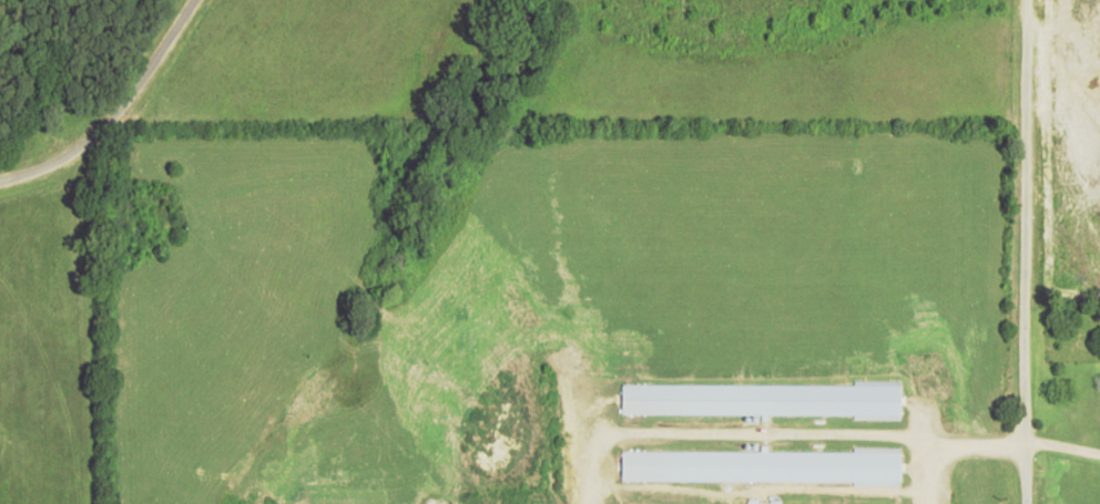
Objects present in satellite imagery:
road: (109, 105)
road: (996, 249)
building: (767, 399)
building: (767, 466)
building: (765, 503)

